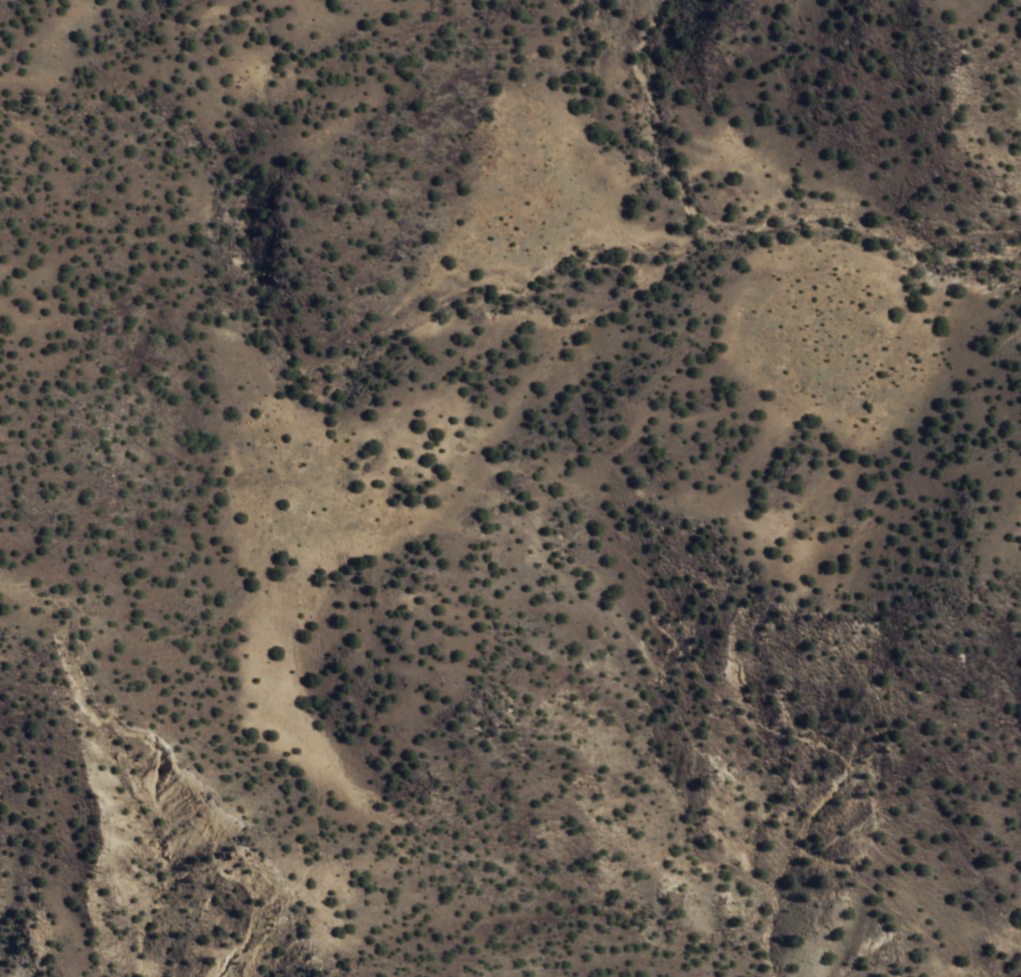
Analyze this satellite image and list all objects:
road: (485, 28)

